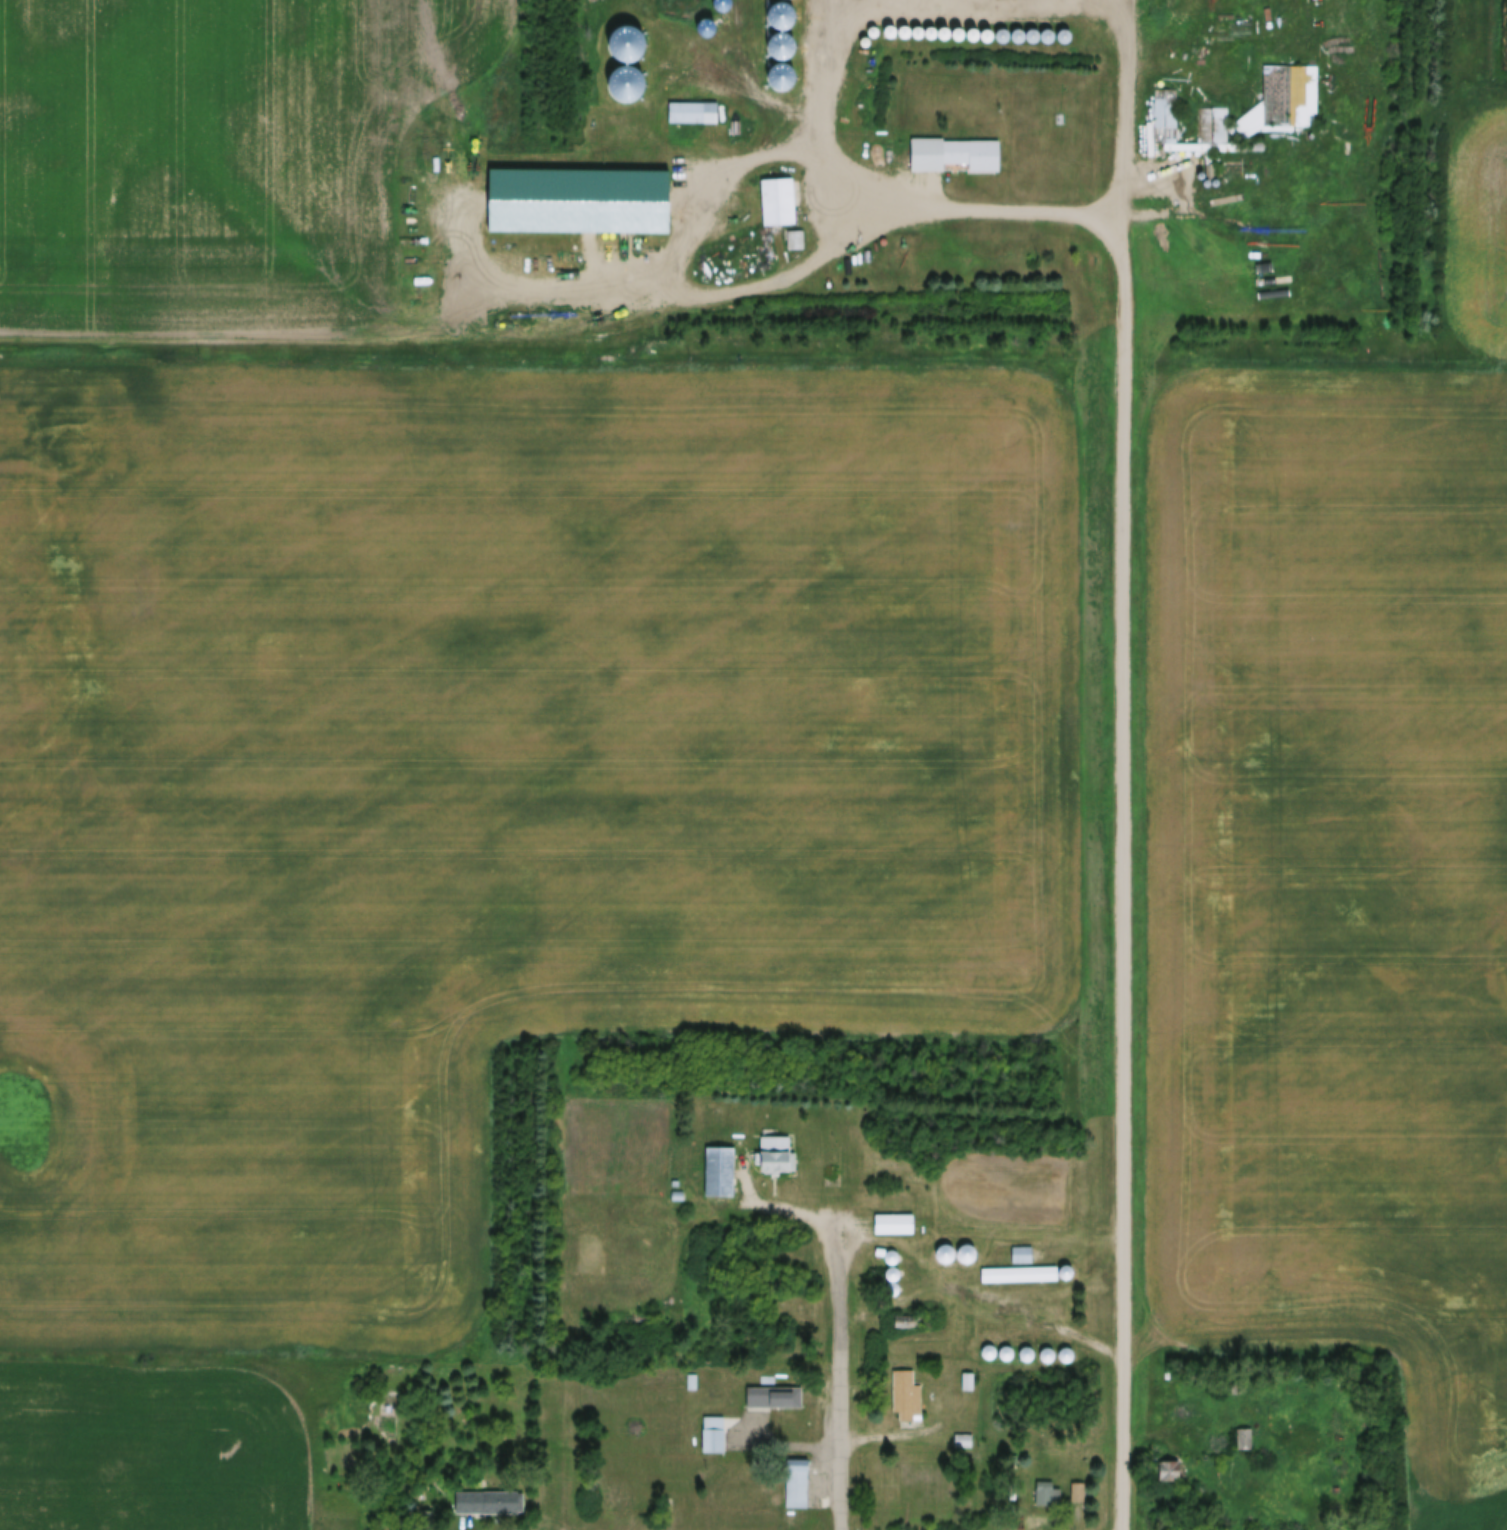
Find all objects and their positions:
building: (783, 10)
silo: (783, 10)
road: (883, 19)
road: (1130, 19)
building: (876, 25)
silo: (876, 25)
building: (890, 26)
silo: (890, 26)
building: (904, 26)
silo: (904, 26)
building: (918, 26)
silo: (918, 26)
building: (931, 27)
silo: (931, 27)
building: (943, 28)
silo: (943, 28)
building: (956, 29)
silo: (956, 29)
building: (970, 29)
silo: (970, 29)
building: (861, 30)
silo: (861, 30)
building: (984, 30)
silo: (984, 30)
building: (1001, 30)
silo: (1001, 30)
building: (1016, 30)
silo: (1016, 30)
building: (1032, 30)
silo: (1032, 30)
building: (1047, 31)
silo: (1047, 31)
building: (631, 34)
silo: (631, 34)
building: (852, 39)
silo: (852, 39)
building: (783, 40)
silo: (783, 40)
building: (783, 70)
silo: (783, 70)
building: (631, 76)
silo: (631, 76)
building: (1289, 92)
building: (693, 105)
building: (1166, 110)
building: (693, 116)
building: (1245, 119)
building: (1214, 120)
building: (738, 122)
road: (1128, 125)
building: (1214, 141)
building: (950, 149)
building: (1199, 168)
silo: (1199, 168)
road: (1343, 173)
building: (1214, 175)
silo: (1214, 175)
building: (1205, 176)
silo: (1205, 176)
road: (1183, 188)
building: (776, 195)
building: (581, 196)
road: (893, 225)
building: (795, 234)
road: (338, 337)
road: (1124, 870)
building: (773, 1148)
building: (716, 1165)
building: (891, 1218)
road: (824, 1226)
building: (945, 1247)
silo: (945, 1247)
building: (967, 1247)
silo: (967, 1247)
building: (1021, 1248)
building: (893, 1250)
silo: (893, 1250)
building: (960, 1257)
building: (1065, 1265)
silo: (1065, 1265)
building: (893, 1267)
silo: (893, 1267)
building: (1018, 1268)
building: (1021, 1276)
building: (894, 1282)
silo: (894, 1282)
road: (984, 1302)
building: (989, 1345)
silo: (989, 1345)
building: (1006, 1347)
silo: (1006, 1347)
building: (1027, 1348)
silo: (1027, 1348)
building: (1066, 1348)
silo: (1066, 1348)
building: (1047, 1349)
silo: (1047, 1349)
building: (692, 1375)
building: (966, 1375)
building: (772, 1390)
building: (903, 1390)
building: (711, 1429)
building: (1244, 1432)
building: (962, 1433)
road: (898, 1434)
road: (842, 1435)
building: (1165, 1464)
building: (1171, 1474)
building: (795, 1477)
building: (1046, 1487)
building: (1078, 1487)
building: (484, 1496)
building: (617, 1496)
building: (620, 1508)

